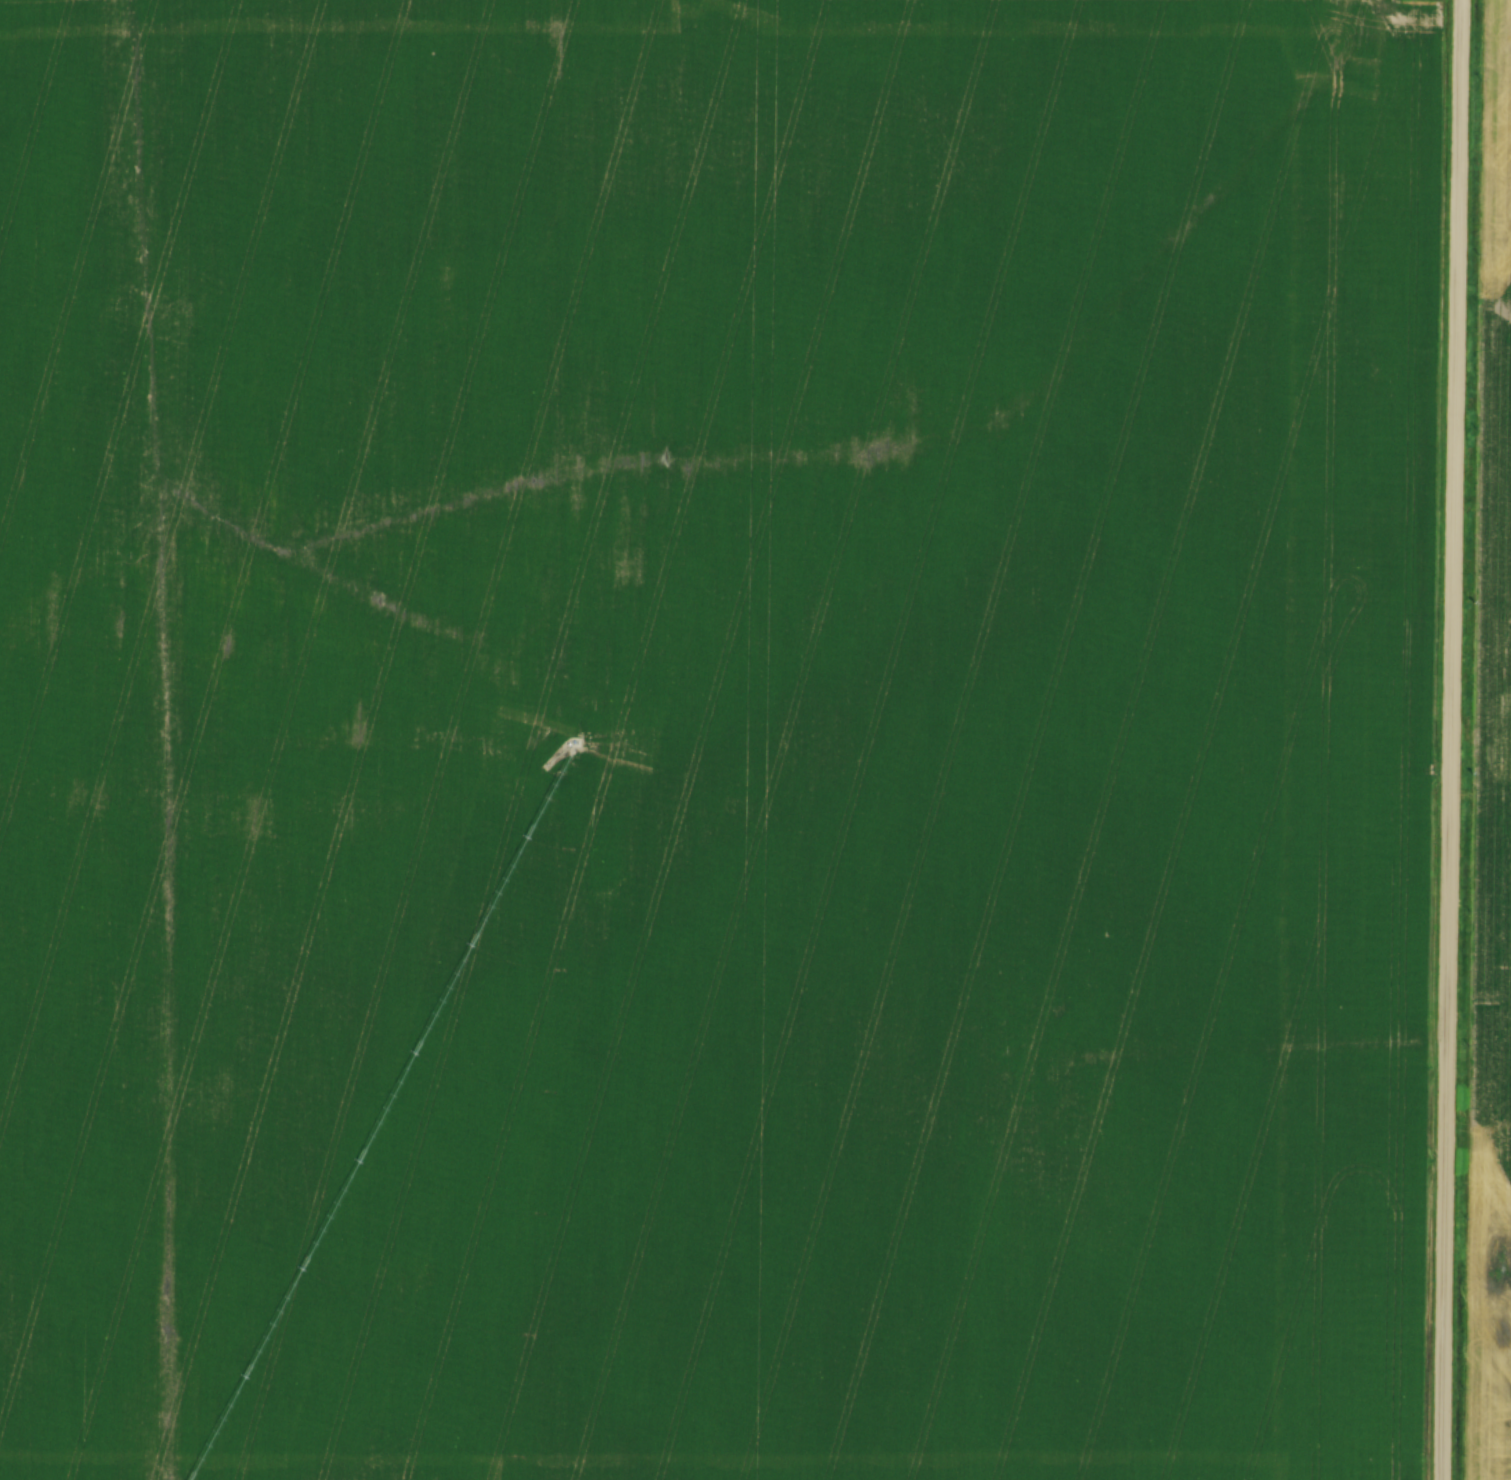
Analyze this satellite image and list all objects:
road: (1450, 740)

